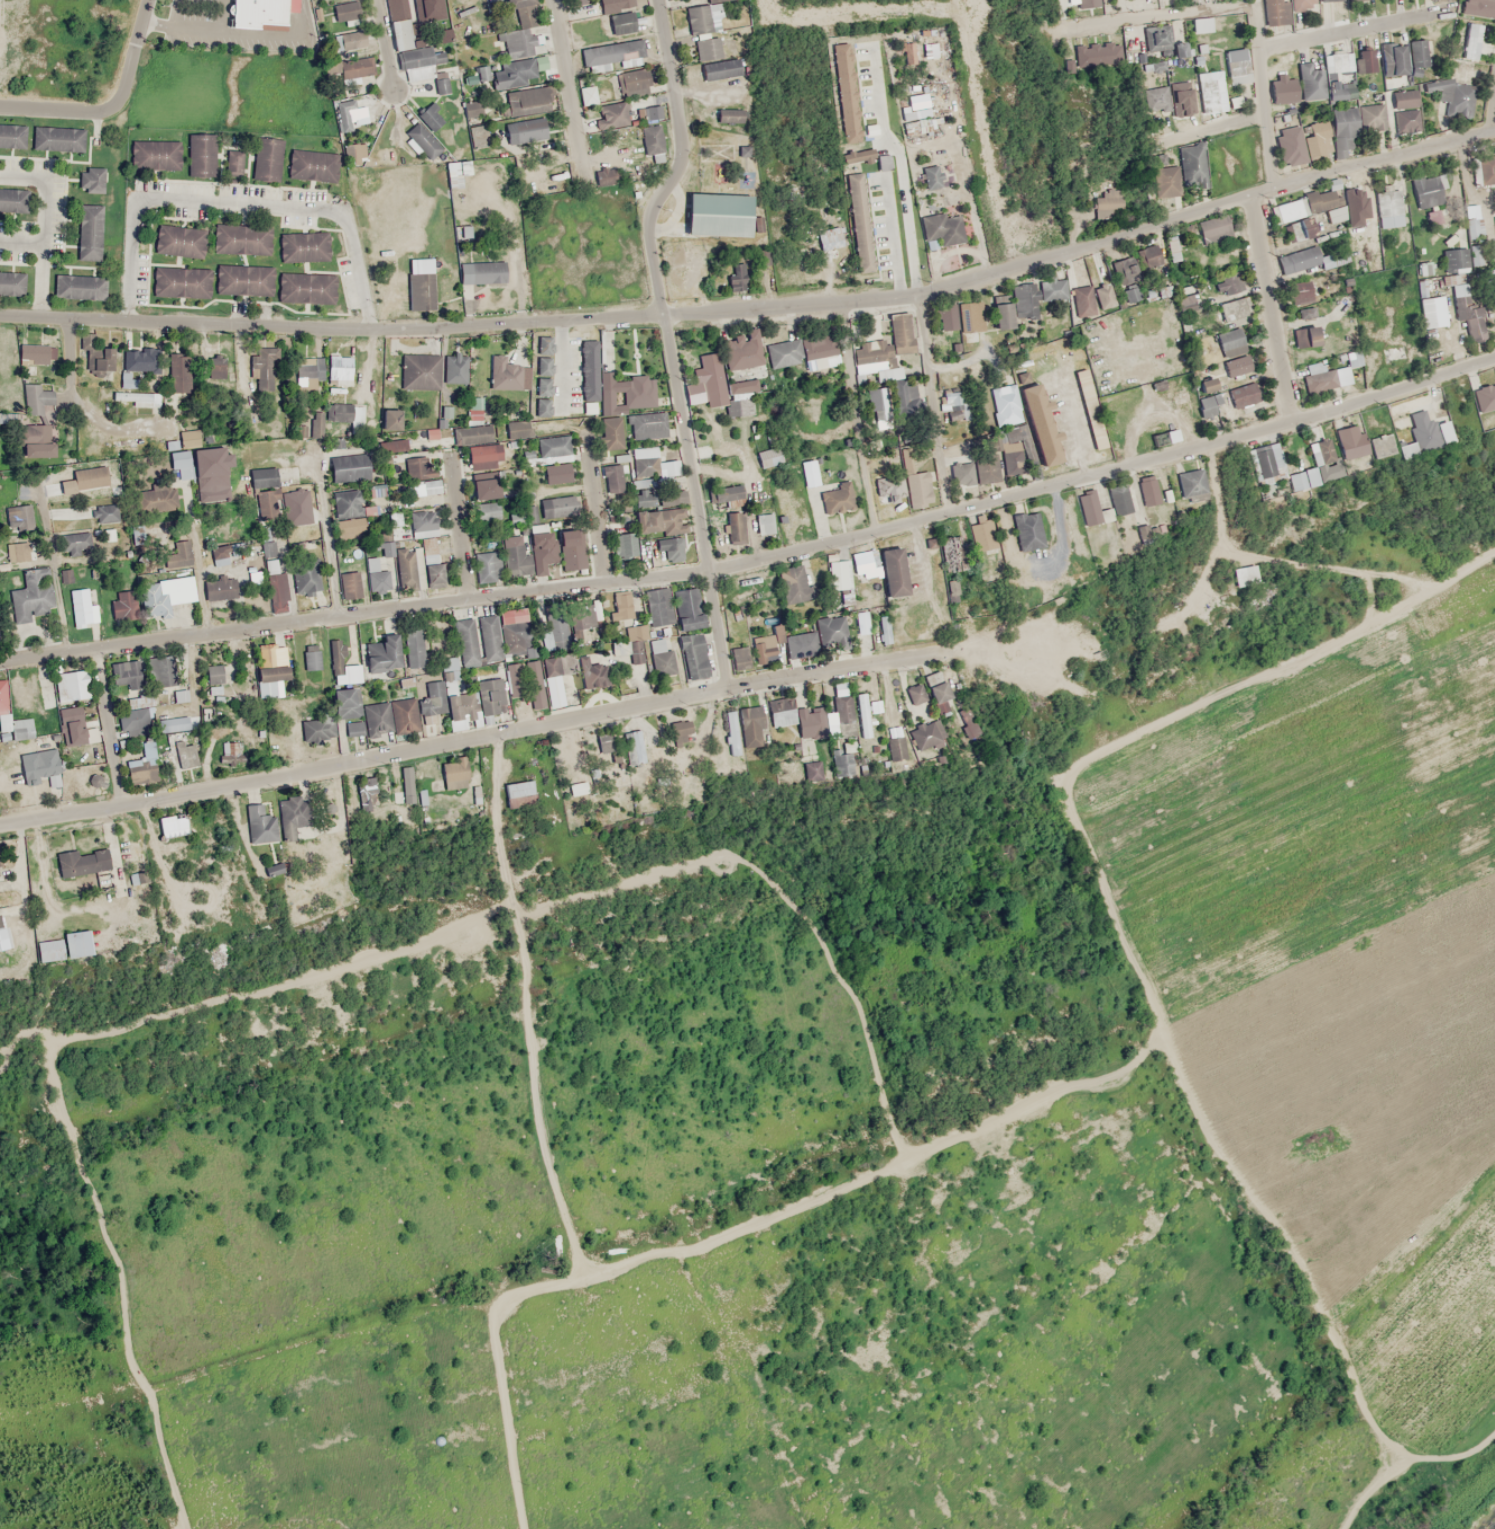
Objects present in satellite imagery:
building: (1087, 3)
building: (616, 4)
building: (1301, 4)
building: (393, 7)
building: (1475, 8)
building: (346, 11)
building: (258, 13)
road: (1163, 16)
building: (704, 17)
building: (619, 19)
building: (518, 30)
road: (1347, 30)
building: (1157, 38)
building: (349, 41)
building: (1471, 41)
road: (385, 46)
building: (612, 55)
building: (1096, 55)
building: (1418, 57)
building: (1391, 59)
building: (1365, 61)
building: (1338, 62)
building: (717, 64)
building: (423, 65)
building: (1235, 66)
building: (355, 68)
building: (1449, 72)
building: (510, 74)
building: (635, 82)
building: (1311, 82)
road: (569, 91)
building: (587, 94)
building: (1208, 96)
road: (1263, 96)
building: (1284, 97)
building: (1155, 99)
building: (527, 101)
building: (1234, 102)
road: (113, 108)
building: (727, 109)
building: (1405, 111)
building: (648, 112)
building: (350, 114)
building: (612, 115)
building: (430, 117)
building: (1371, 117)
road: (1493, 118)
building: (518, 126)
road: (1215, 127)
building: (1318, 129)
building: (7, 130)
building: (52, 132)
building: (1343, 132)
building: (649, 136)
building: (423, 140)
building: (1289, 145)
building: (198, 151)
building: (150, 153)
building: (265, 155)
building: (309, 160)
road: (681, 161)
building: (1192, 165)
building: (931, 176)
building: (84, 177)
building: (1165, 181)
building: (1427, 190)
building: (13, 200)
building: (1311, 205)
road: (239, 207)
building: (713, 207)
road: (1168, 219)
building: (859, 227)
road: (47, 230)
building: (84, 230)
building: (238, 234)
building: (1294, 235)
building: (1494, 240)
building: (179, 241)
building: (299, 241)
building: (1475, 241)
building: (1148, 256)
building: (1454, 259)
building: (1308, 261)
building: (482, 266)
building: (1124, 270)
building: (241, 275)
building: (9, 279)
building: (175, 279)
building: (74, 281)
building: (299, 281)
building: (1231, 282)
building: (420, 284)
building: (1458, 289)
building: (1082, 300)
building: (1424, 304)
road: (1271, 308)
building: (1002, 310)
building: (970, 316)
building: (947, 318)
building: (1473, 324)
road: (420, 328)
building: (1304, 336)
building: (876, 341)
building: (1230, 342)
building: (821, 348)
building: (741, 351)
building: (784, 353)
building: (33, 354)
building: (96, 355)
building: (1352, 358)
building: (138, 360)
building: (1237, 365)
building: (218, 366)
building: (267, 371)
building: (339, 371)
building: (419, 371)
building: (178, 372)
building: (504, 373)
building: (308, 374)
building: (709, 376)
building: (1317, 377)
building: (590, 393)
building: (1242, 395)
building: (132, 396)
building: (542, 396)
building: (1484, 398)
building: (37, 400)
building: (876, 402)
road: (932, 403)
building: (954, 404)
road: (84, 405)
building: (1006, 405)
building: (473, 412)
road: (858, 416)
building: (346, 419)
building: (390, 419)
building: (642, 427)
building: (316, 429)
building: (517, 429)
building: (1443, 431)
building: (473, 433)
building: (611, 435)
building: (22, 441)
building: (1351, 442)
building: (1044, 444)
building: (1406, 446)
building: (548, 449)
building: (1009, 450)
building: (644, 451)
building: (1318, 452)
building: (484, 457)
building: (768, 457)
building: (1266, 460)
building: (181, 463)
building: (348, 467)
building: (670, 467)
building: (987, 469)
building: (961, 473)
building: (211, 474)
building: (263, 477)
building: (612, 477)
building: (1303, 480)
building: (89, 482)
building: (1190, 483)
building: (430, 486)
building: (917, 489)
building: (377, 490)
building: (1148, 491)
building: (643, 493)
building: (726, 496)
building: (485, 497)
building: (836, 499)
building: (1119, 499)
road: (696, 500)
building: (346, 503)
building: (557, 508)
building: (1088, 508)
road: (596, 509)
building: (106, 513)
building: (19, 518)
building: (516, 519)
building: (671, 521)
building: (423, 523)
building: (763, 523)
building: (736, 527)
building: (350, 529)
road: (461, 529)
building: (109, 534)
building: (983, 534)
building: (137, 536)
building: (74, 543)
building: (624, 545)
building: (541, 546)
building: (667, 547)
road: (330, 549)
building: (386, 549)
building: (572, 549)
building: (18, 551)
building: (948, 553)
building: (178, 554)
building: (219, 557)
building: (514, 559)
road: (757, 559)
road: (1279, 560)
building: (431, 561)
road: (51, 564)
building: (371, 564)
building: (865, 565)
building: (486, 566)
building: (893, 572)
building: (74, 573)
building: (837, 575)
building: (1244, 575)
building: (274, 577)
building: (305, 577)
road: (202, 579)
building: (796, 583)
building: (350, 585)
building: (219, 588)
building: (183, 589)
building: (32, 595)
building: (154, 598)
road: (1375, 598)
building: (768, 603)
building: (125, 604)
building: (622, 606)
building: (83, 607)
building: (658, 607)
building: (687, 608)
building: (512, 616)
building: (588, 616)
building: (861, 622)
building: (554, 626)
building: (884, 629)
building: (832, 631)
building: (489, 638)
building: (466, 641)
building: (799, 642)
building: (513, 643)
building: (629, 647)
building: (413, 648)
building: (181, 653)
building: (383, 654)
building: (336, 656)
building: (693, 656)
building: (311, 657)
building: (661, 658)
building: (739, 658)
building: (269, 668)
building: (127, 674)
building: (214, 674)
building: (163, 676)
building: (572, 677)
building: (514, 680)
building: (534, 684)
building: (70, 685)
building: (936, 687)
building: (839, 689)
building: (23, 692)
building: (914, 693)
building: (2, 695)
building: (445, 696)
building: (490, 696)
building: (140, 701)
building: (348, 710)
building: (403, 715)
building: (862, 715)
building: (376, 718)
building: (782, 720)
building: (811, 722)
building: (173, 724)
building: (73, 726)
building: (751, 726)
building: (135, 727)
building: (21, 728)
road: (106, 728)
building: (318, 728)
building: (731, 732)
building: (925, 734)
road: (474, 737)
building: (50, 739)
building: (256, 743)
building: (632, 747)
building: (230, 753)
building: (143, 765)
building: (841, 765)
building: (39, 768)
building: (455, 776)
building: (367, 786)
building: (578, 788)
building: (518, 789)
building: (405, 790)
building: (293, 816)
building: (260, 824)
building: (173, 825)
building: (337, 847)
building: (1, 860)
building: (82, 862)
road: (1115, 912)
building: (3, 934)
building: (63, 947)
road: (534, 1008)
road: (841, 1194)

